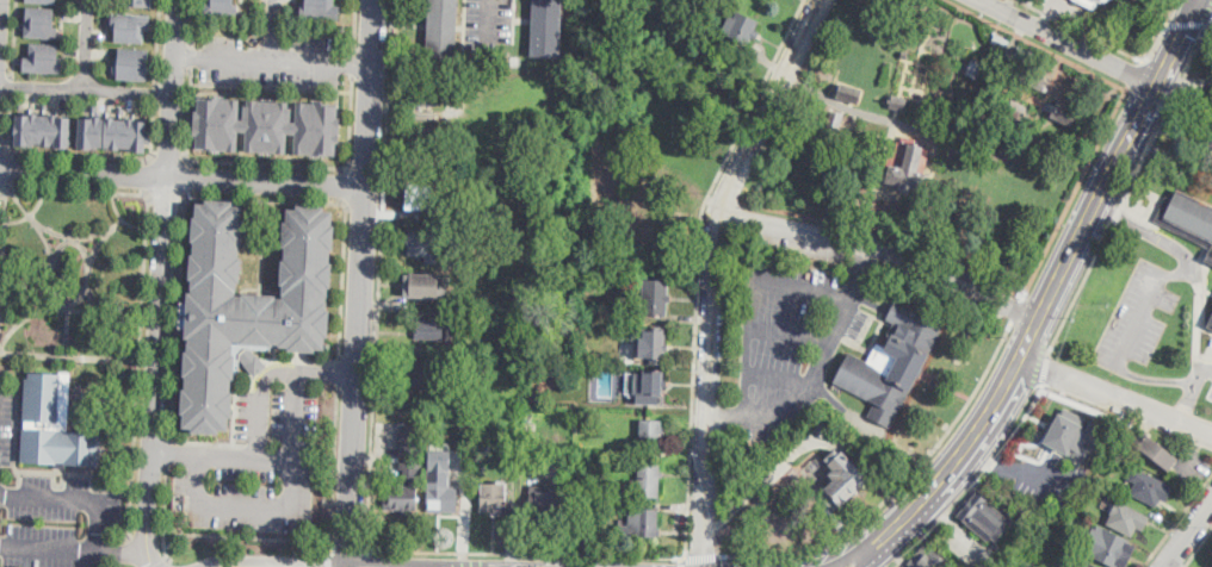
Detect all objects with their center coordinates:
building: (45, 0)
building: (1112, 0)
building: (140, 1)
road: (1198, 1)
building: (1090, 2)
road: (1205, 4)
building: (219, 5)
building: (320, 7)
park: (1112, 15)
road: (272, 17)
road: (1211, 18)
building: (41, 21)
road: (192, 21)
road: (354, 24)
road: (1187, 24)
road: (1210, 24)
building: (131, 25)
road: (491, 27)
building: (546, 27)
building: (705, 27)
building: (741, 27)
traffic signals: (1183, 30)
building: (443, 31)
road: (13, 37)
road: (1099, 39)
road: (159, 42)
building: (1000, 42)
road: (1066, 42)
road: (1038, 43)
road: (87, 44)
road: (271, 48)
road: (191, 54)
building: (1024, 54)
building: (904, 55)
building: (43, 58)
parking lot: (271, 60)
road: (353, 61)
building: (134, 62)
road: (273, 62)
building: (973, 68)
road: (1134, 71)
building: (1037, 83)
road: (11, 85)
road: (271, 85)
road: (86, 89)
road: (156, 92)
building: (427, 93)
building: (849, 93)
building: (1211, 99)
building: (898, 102)
road: (847, 107)
building: (1016, 110)
road: (1165, 113)
building: (1063, 114)
building: (834, 121)
building: (266, 123)
road: (10, 124)
building: (44, 127)
building: (107, 131)
park: (941, 135)
building: (1205, 135)
building: (421, 139)
road: (5, 152)
road: (109, 155)
road: (168, 157)
road: (265, 161)
building: (465, 162)
road: (8, 167)
building: (907, 167)
park: (619, 169)
road: (148, 175)
road: (183, 176)
road: (185, 176)
road: (27, 187)
road: (1074, 189)
road: (2, 191)
road: (111, 191)
road: (166, 194)
building: (418, 198)
road: (723, 198)
road: (342, 200)
road: (1115, 217)
building: (1188, 218)
road: (134, 225)
road: (886, 231)
parking lot: (1160, 236)
parking lot: (794, 244)
road: (98, 245)
building: (425, 247)
road: (883, 249)
road: (4, 254)
road: (1064, 264)
park: (74, 267)
road: (712, 270)
road: (860, 272)
road: (379, 275)
road: (361, 281)
road: (161, 283)
building: (520, 283)
building: (427, 285)
road: (1196, 285)
road: (1080, 291)
building: (654, 297)
road: (55, 299)
building: (248, 304)
road: (1016, 306)
road: (27, 311)
parking lot: (1137, 317)
road: (104, 323)
building: (1210, 323)
building: (434, 329)
road: (67, 332)
road: (789, 334)
parking lot: (789, 336)
road: (1125, 337)
building: (653, 345)
road: (140, 349)
road: (72, 355)
building: (892, 361)
parking lot: (1210, 368)
road: (338, 370)
road: (1045, 372)
road: (1205, 372)
building: (124, 373)
road: (327, 375)
building: (482, 375)
road: (779, 375)
road: (173, 376)
building: (422, 376)
road: (743, 382)
building: (648, 387)
parking lot: (1211, 394)
road: (1115, 395)
building: (42, 399)
building: (122, 407)
road: (724, 416)
parking lot: (6, 424)
building: (531, 425)
road: (691, 425)
building: (823, 428)
road: (261, 430)
building: (651, 432)
building: (531, 436)
building: (1071, 436)
road: (804, 443)
building: (1106, 447)
building: (62, 449)
road: (167, 453)
building: (1157, 453)
parking lot: (261, 456)
road: (278, 460)
building: (1111, 460)
building: (746, 461)
building: (481, 467)
road: (333, 469)
building: (408, 469)
building: (649, 480)
building: (842, 480)
building: (440, 481)
road: (901, 484)
road: (975, 484)
building: (1150, 487)
building: (604, 491)
road: (74, 496)
building: (494, 498)
building: (545, 505)
road: (278, 515)
building: (983, 517)
building: (1126, 518)
road: (1175, 518)
parking lot: (56, 522)
building: (647, 524)
road: (1187, 531)
road: (246, 536)
road: (864, 540)
road: (893, 543)
road: (55, 547)
building: (1109, 547)
road: (1196, 547)
road: (129, 549)
road: (347, 550)
road: (132, 553)
road: (703, 556)
building: (928, 559)
building: (1032, 559)
road: (329, 560)
road: (622, 560)
road: (161, 562)
road: (412, 562)
road: (283, 563)
road: (339, 565)
road: (490, 565)
road: (810, 565)
road: (530, 566)
building: (905, 566)
building: (1092, 566)

